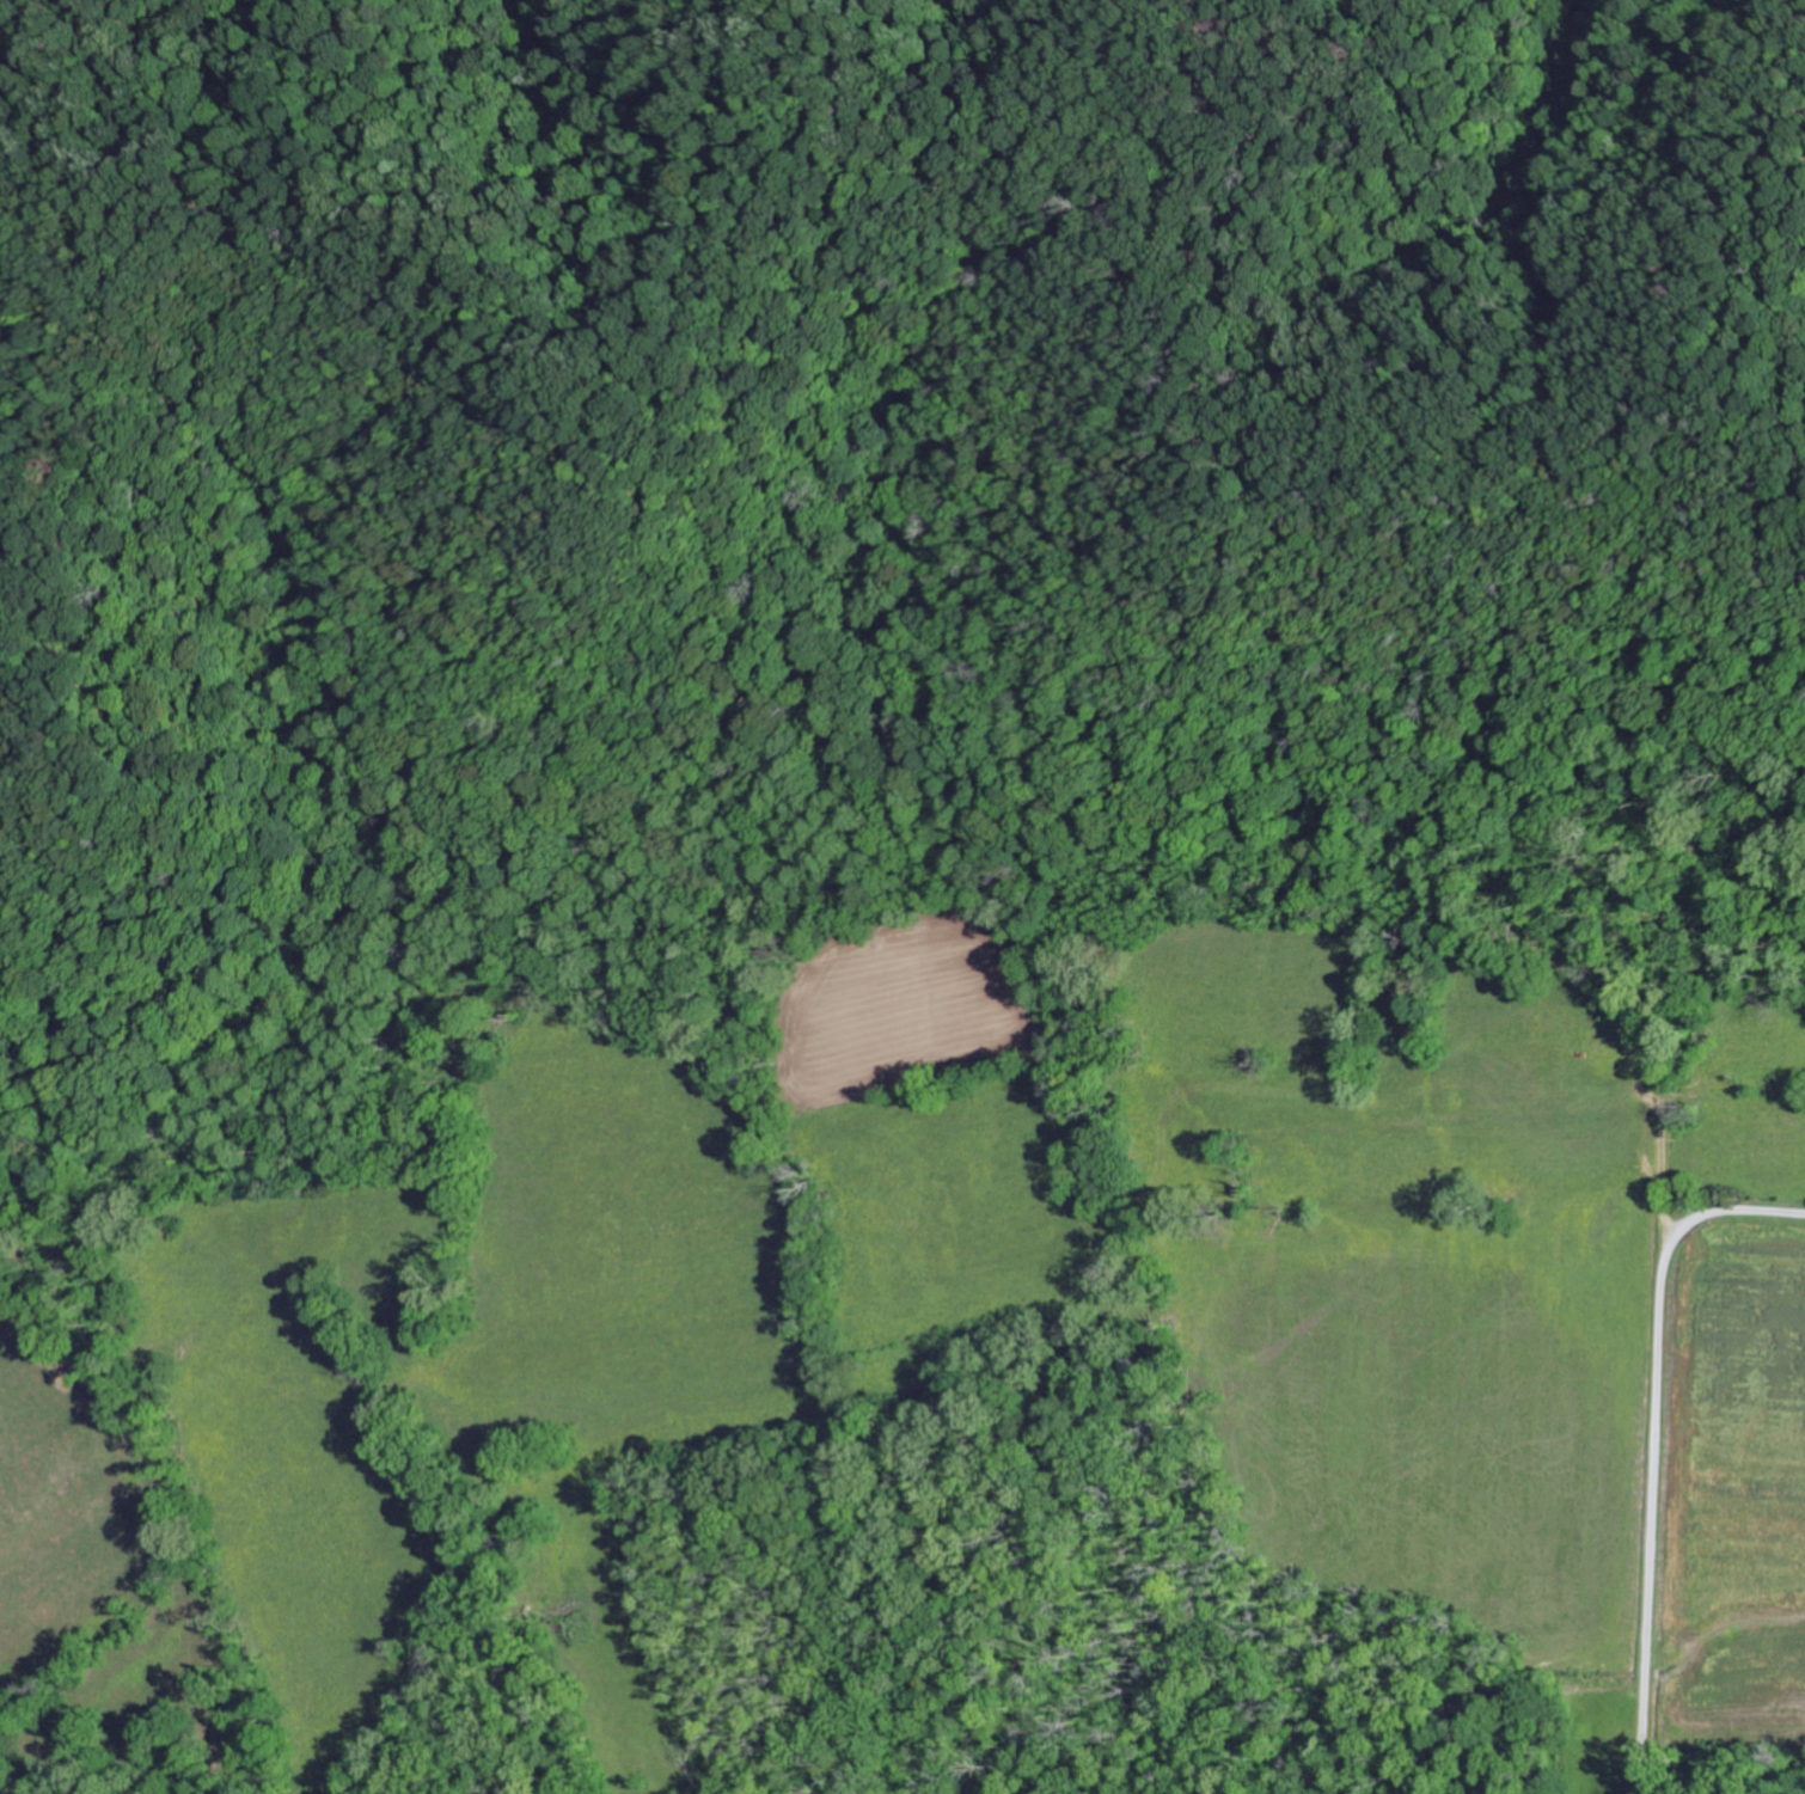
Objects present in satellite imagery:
road: (1652, 1444)

